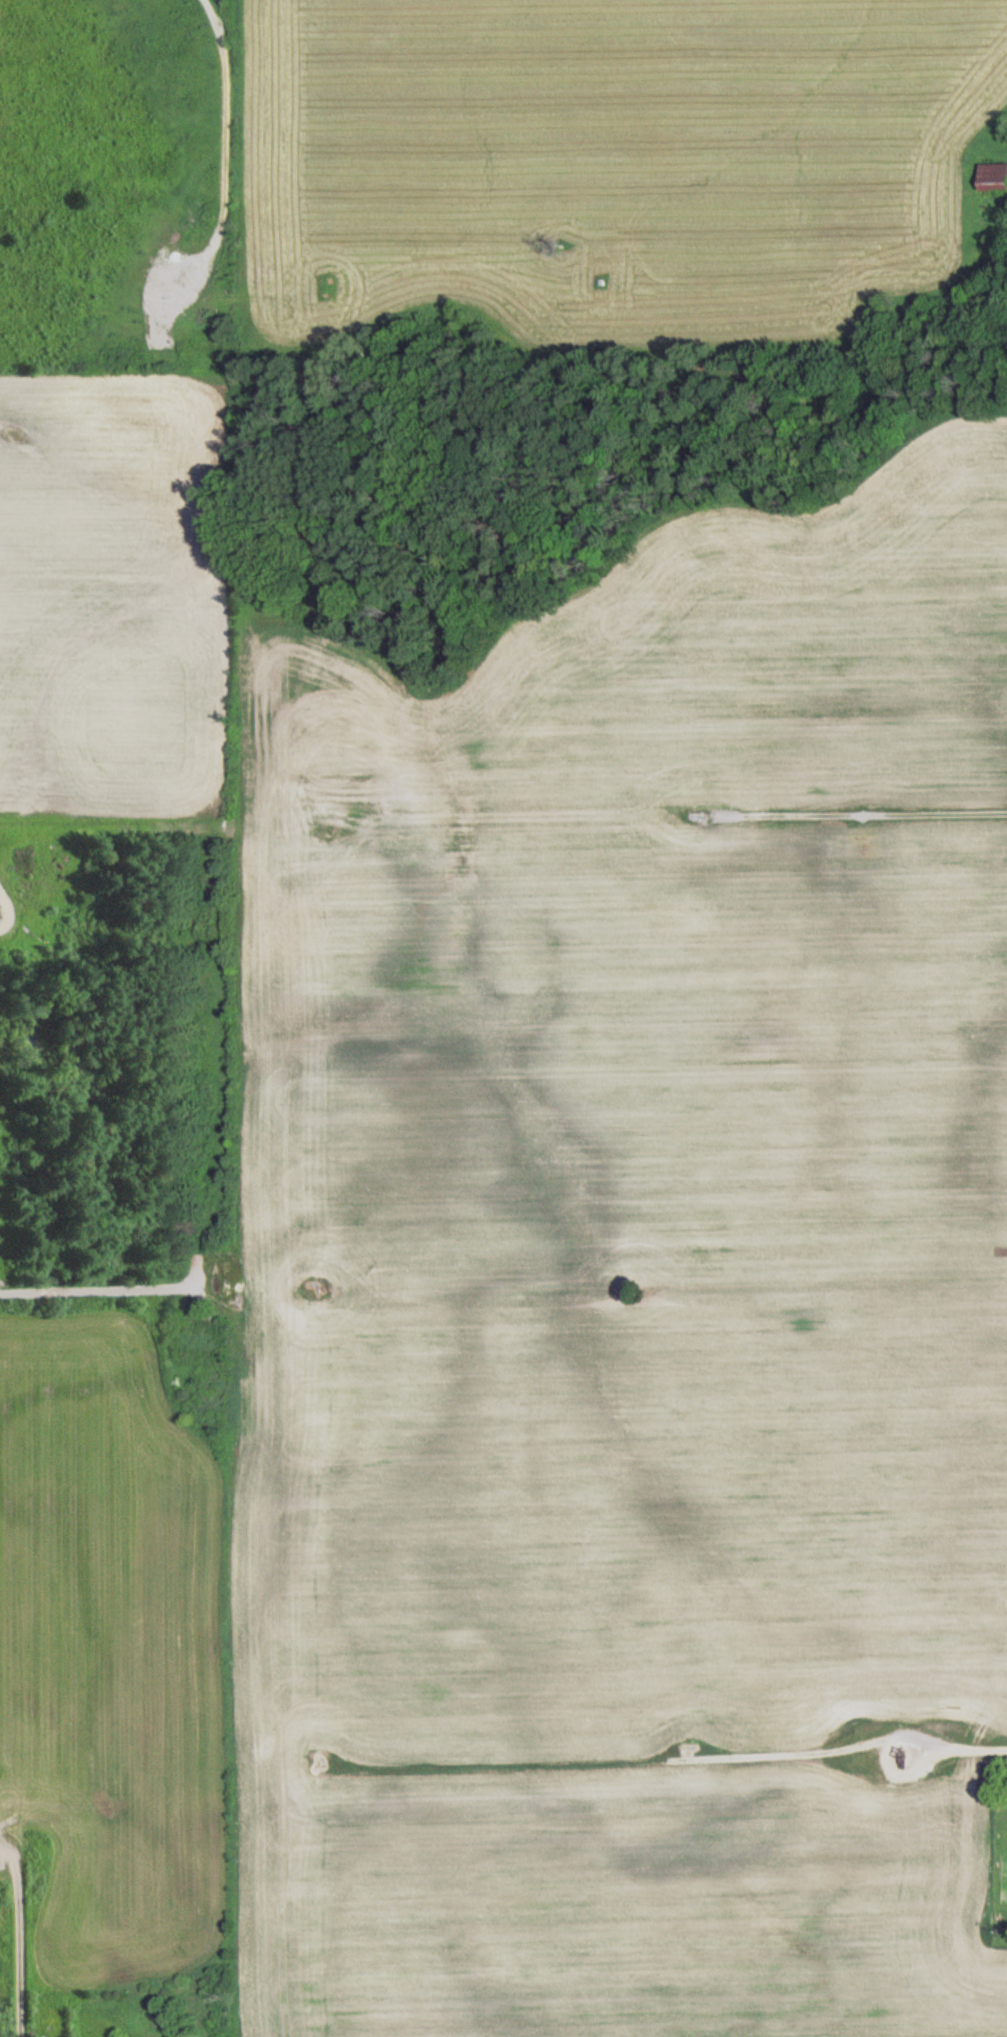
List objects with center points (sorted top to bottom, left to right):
building: (994, 171)
petroleum well: (897, 1752)
road: (17, 1947)

